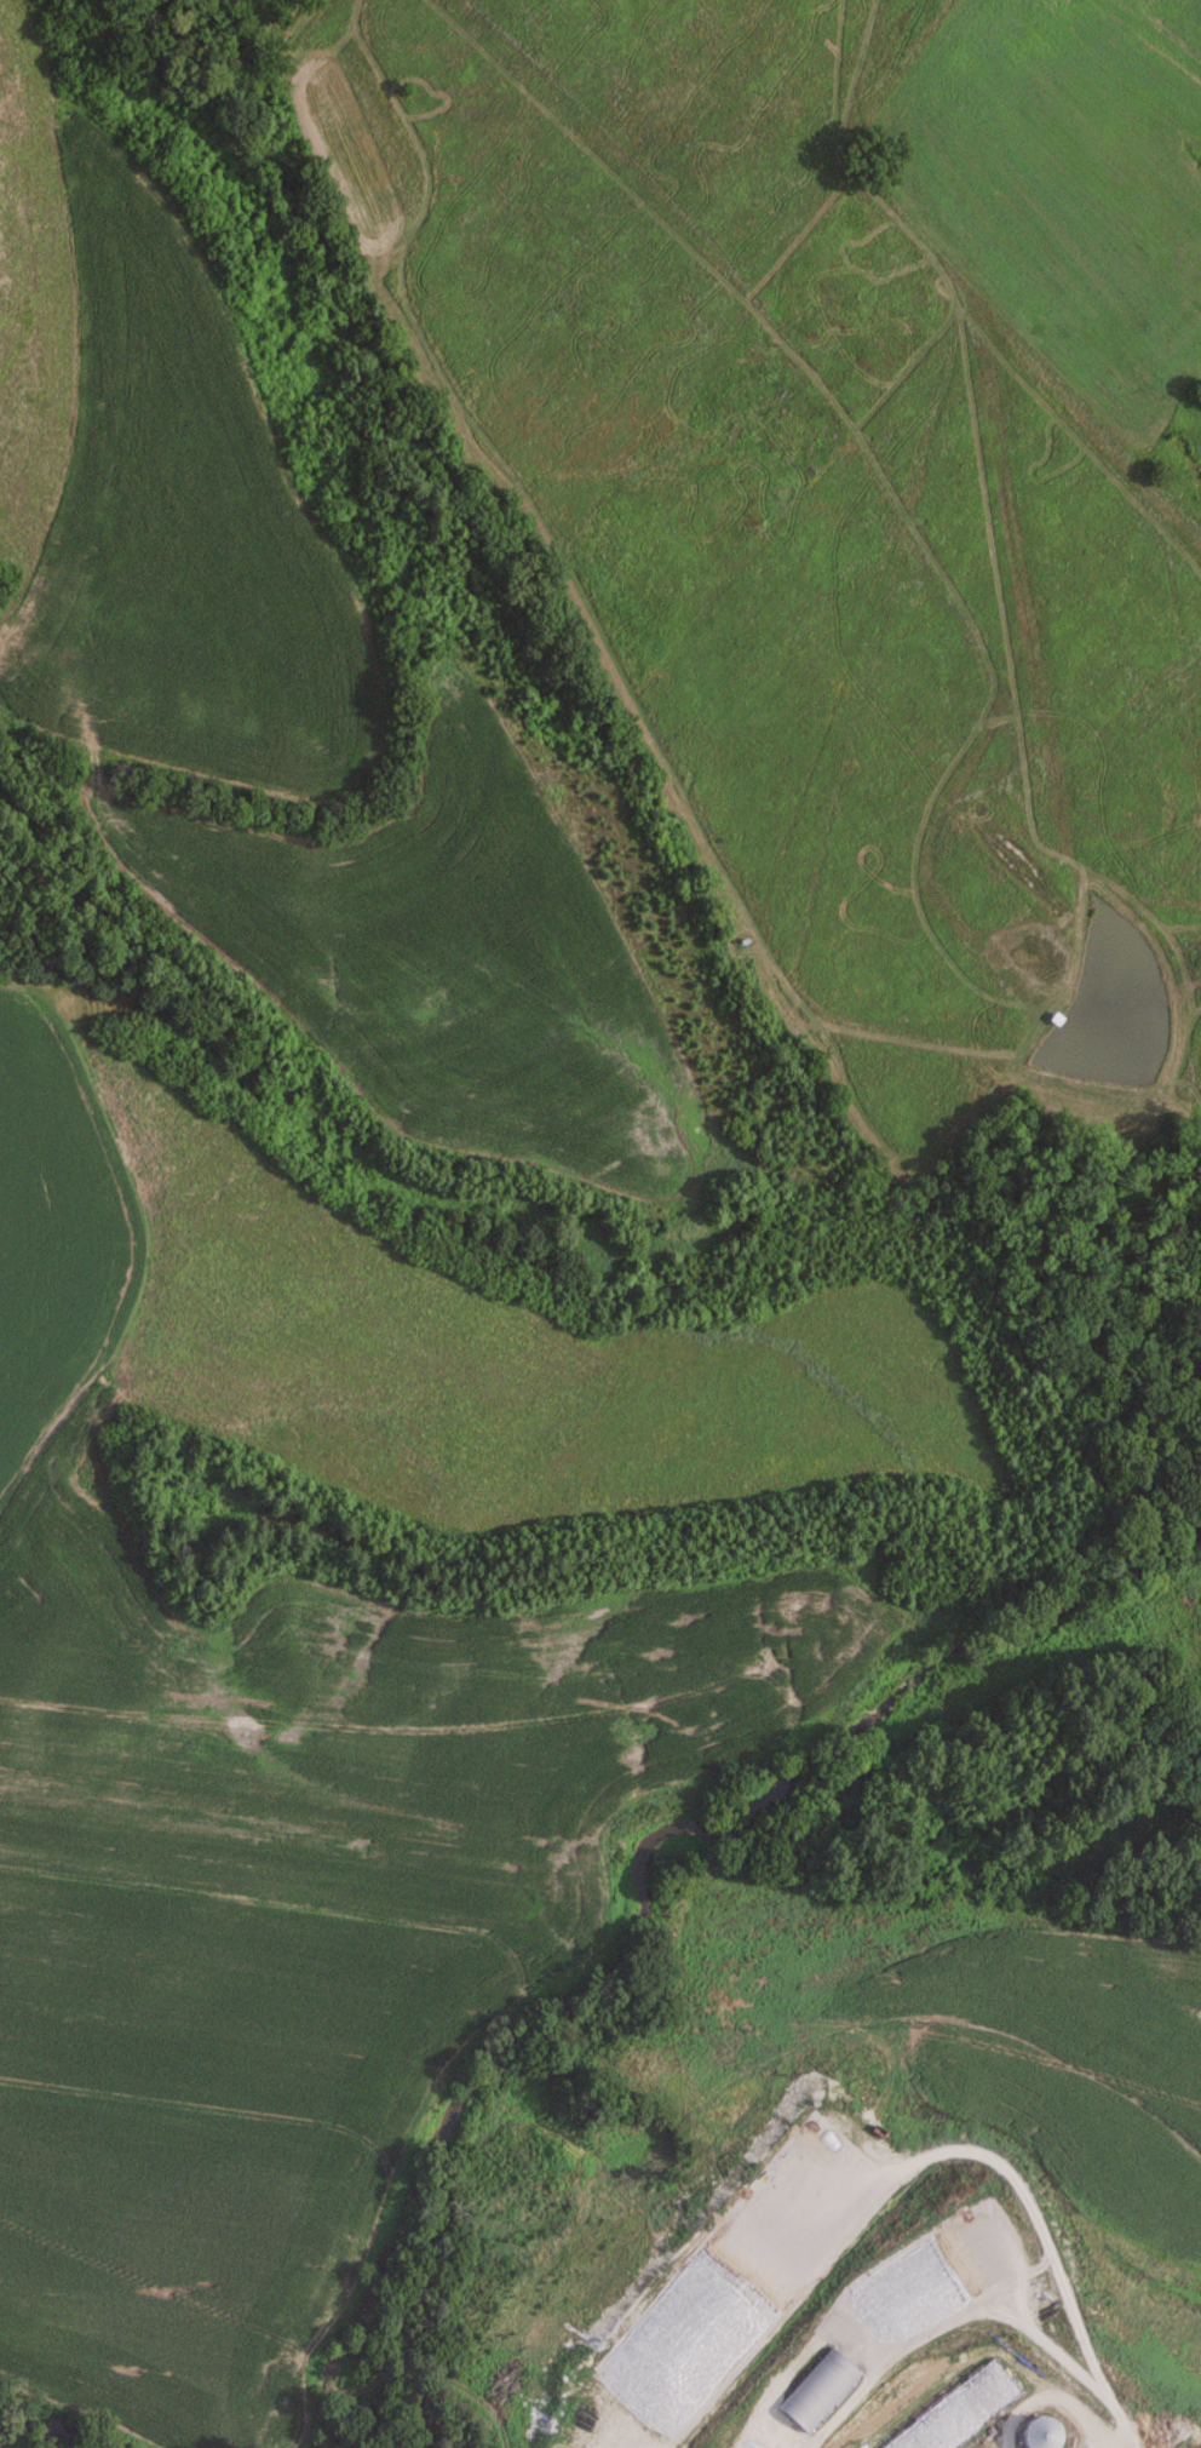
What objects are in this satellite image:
road: (123, 1623)
river: (633, 1902)
building: (816, 2393)
building: (958, 2412)
river: (56, 2432)
building: (1033, 2433)

